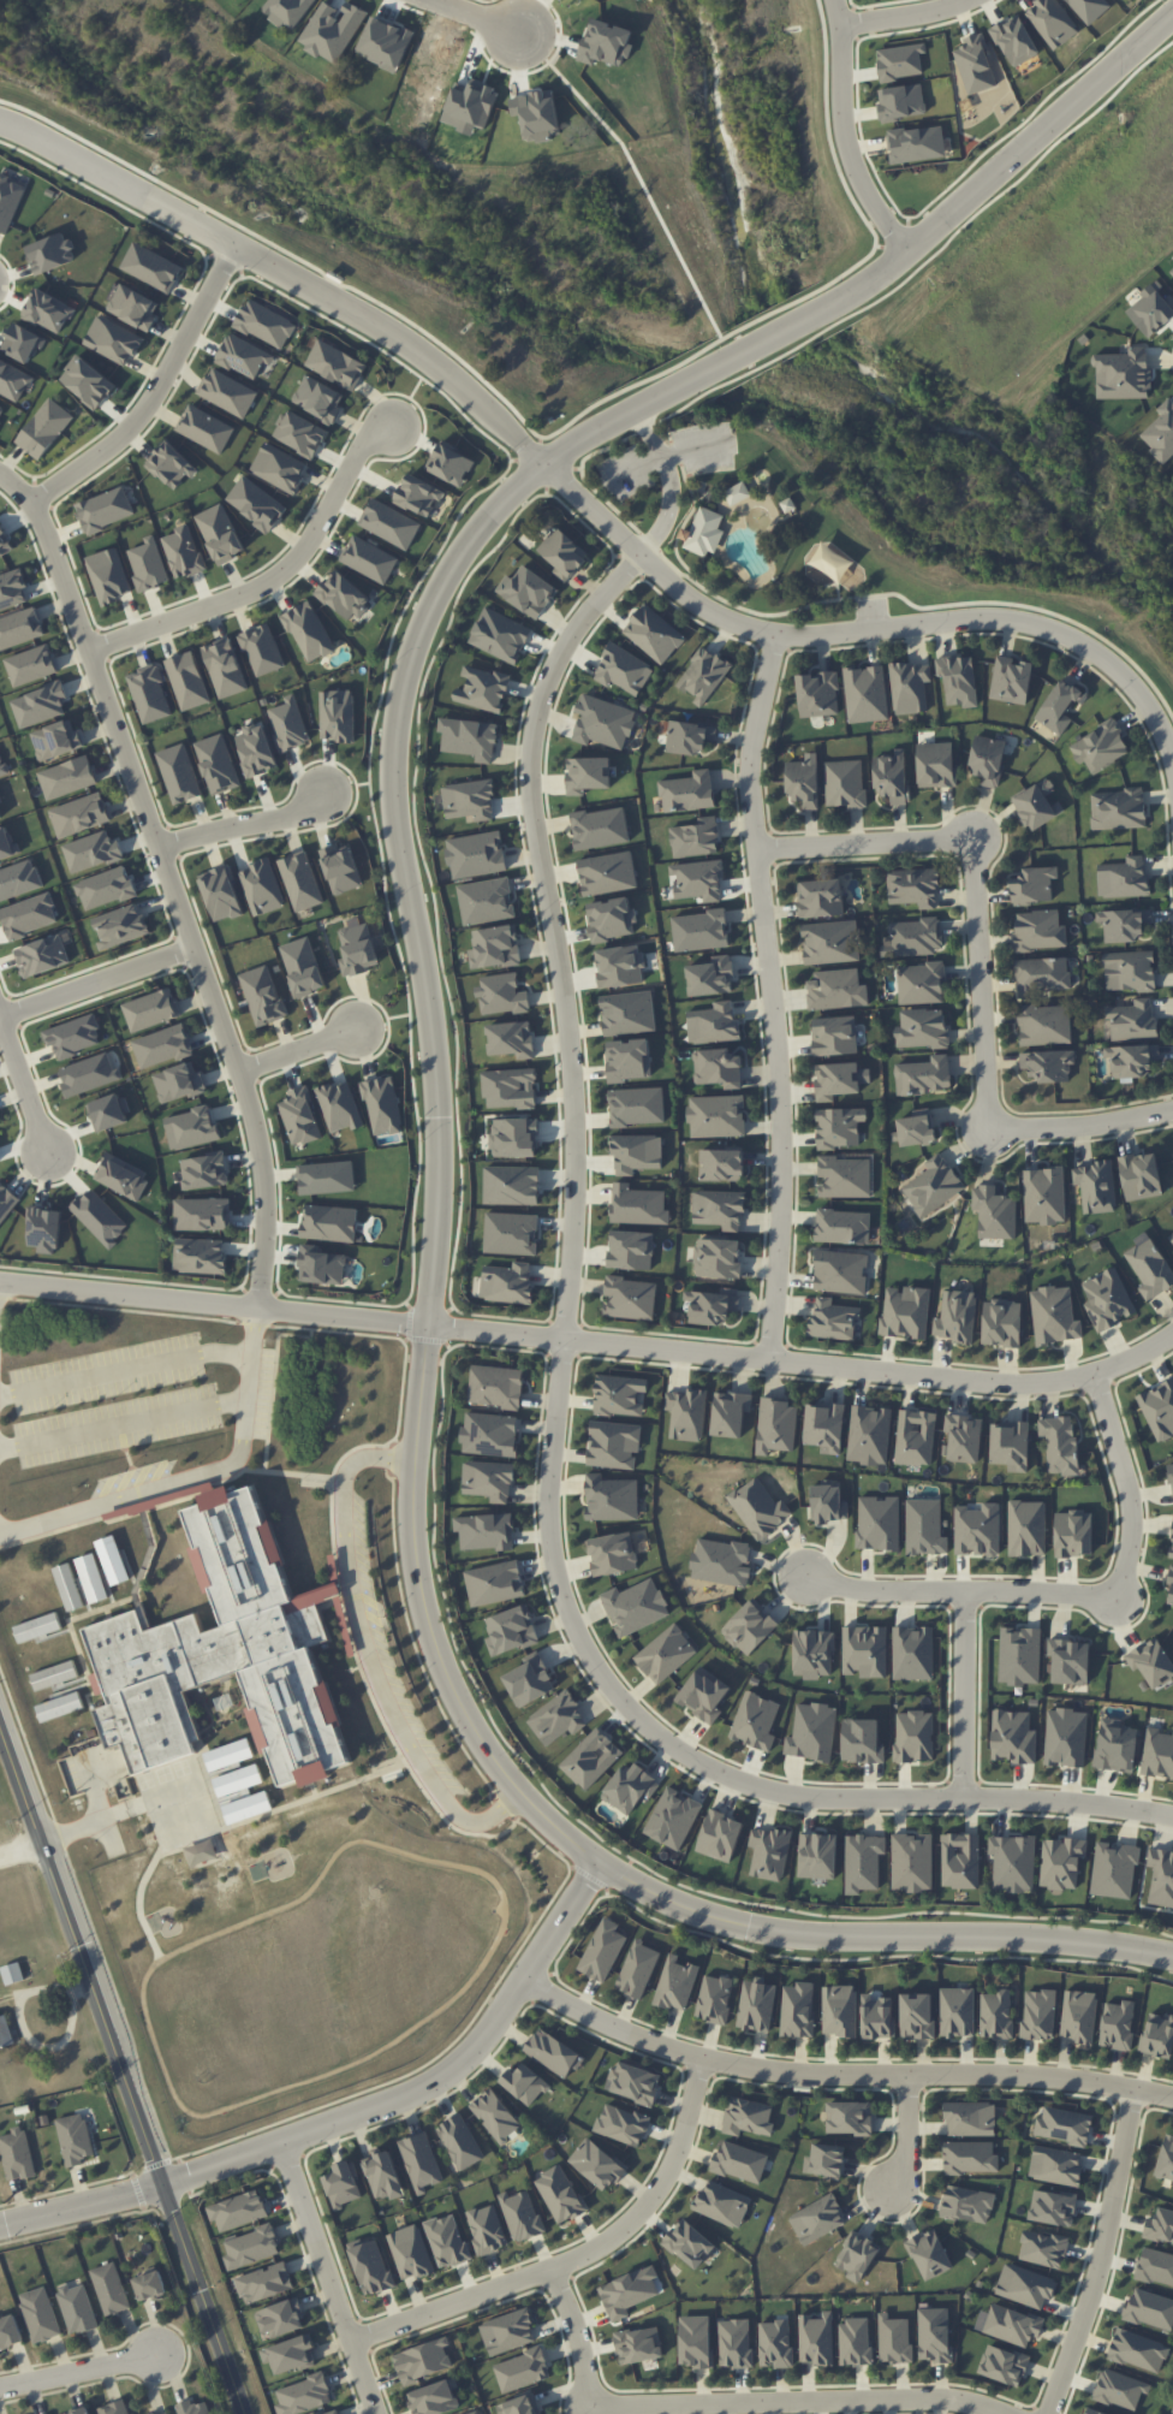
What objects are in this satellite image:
building: (1090, 8)
road: (835, 12)
road: (482, 14)
road: (903, 17)
building: (1052, 22)
building: (1014, 40)
building: (900, 61)
building: (975, 64)
building: (901, 101)
building: (916, 143)
road: (845, 147)
building: (8, 198)
building: (50, 253)
building: (151, 267)
building: (1171, 269)
road: (691, 273)
building: (135, 307)
building: (1151, 310)
building: (264, 324)
building: (113, 339)
building: (22, 342)
building: (243, 356)
building: (337, 364)
building: (1124, 374)
building: (13, 380)
building: (88, 382)
road: (155, 389)
building: (228, 392)
building: (320, 398)
building: (1, 410)
building: (0, 421)
building: (44, 428)
building: (206, 428)
building: (1161, 432)
building: (300, 433)
road: (666, 455)
building: (451, 463)
building: (171, 465)
building: (279, 467)
road: (669, 481)
building: (738, 493)
building: (419, 494)
road: (578, 498)
building: (256, 503)
building: (105, 509)
building: (391, 523)
building: (703, 532)
building: (220, 533)
building: (5, 542)
building: (183, 552)
building: (564, 553)
building: (369, 559)
building: (148, 564)
building: (109, 575)
road: (273, 575)
building: (12, 589)
building: (528, 591)
building: (343, 597)
building: (20, 628)
building: (309, 631)
building: (654, 634)
building: (500, 635)
building: (262, 650)
building: (31, 665)
building: (225, 668)
building: (623, 670)
building: (703, 675)
building: (958, 678)
building: (187, 680)
building: (1011, 680)
building: (909, 687)
building: (483, 689)
building: (818, 693)
building: (150, 694)
building: (865, 694)
building: (40, 705)
building: (1060, 706)
building: (337, 714)
building: (603, 722)
building: (288, 724)
building: (690, 736)
building: (469, 737)
building: (56, 740)
building: (1100, 747)
building: (256, 749)
building: (988, 759)
building: (218, 764)
building: (936, 765)
building: (2, 766)
building: (179, 773)
building: (588, 773)
building: (67, 777)
building: (892, 777)
building: (803, 781)
building: (845, 783)
building: (687, 791)
building: (469, 800)
building: (0, 801)
building: (1037, 803)
building: (1118, 808)
building: (79, 814)
building: (0, 815)
road: (245, 822)
building: (600, 828)
building: (696, 837)
building: (6, 843)
building: (91, 850)
building: (476, 854)
building: (341, 868)
building: (607, 873)
road: (168, 877)
building: (1124, 878)
building: (698, 879)
building: (300, 880)
building: (1034, 884)
building: (261, 886)
building: (913, 886)
building: (106, 888)
building: (221, 894)
building: (821, 897)
building: (486, 901)
building: (29, 915)
building: (611, 919)
building: (1124, 924)
building: (120, 926)
road: (553, 930)
building: (701, 930)
building: (1038, 930)
building: (913, 937)
building: (830, 942)
building: (495, 947)
building: (357, 949)
building: (42, 955)
building: (303, 966)
building: (620, 966)
road: (978, 968)
building: (1129, 971)
road: (96, 972)
building: (1043, 974)
building: (710, 975)
building: (921, 983)
building: (836, 989)
road: (772, 994)
building: (263, 995)
building: (501, 995)
building: (151, 1009)
building: (629, 1012)
building: (1132, 1020)
building: (713, 1024)
building: (1044, 1025)
building: (922, 1028)
building: (73, 1036)
building: (834, 1036)
building: (511, 1038)
building: (162, 1045)
road: (297, 1048)
building: (629, 1060)
building: (1132, 1060)
building: (1048, 1064)
building: (718, 1068)
road: (23, 1074)
building: (89, 1074)
road: (434, 1075)
building: (924, 1075)
building: (836, 1080)
building: (178, 1081)
building: (510, 1089)
building: (339, 1105)
building: (382, 1105)
building: (637, 1105)
building: (108, 1113)
building: (716, 1115)
building: (300, 1116)
building: (0, 1123)
building: (839, 1126)
building: (917, 1127)
building: (191, 1128)
building: (514, 1137)
building: (636, 1152)
building: (721, 1164)
building: (204, 1170)
building: (1141, 1175)
building: (845, 1176)
building: (327, 1178)
building: (511, 1185)
building: (933, 1185)
building: (1096, 1186)
building: (1044, 1194)
building: (6, 1202)
building: (638, 1205)
building: (719, 1208)
building: (994, 1212)
building: (202, 1214)
building: (100, 1217)
building: (329, 1222)
building: (842, 1226)
building: (44, 1228)
building: (511, 1233)
building: (1171, 1238)
building: (631, 1250)
building: (200, 1255)
building: (718, 1258)
building: (321, 1265)
building: (1150, 1268)
building: (840, 1271)
building: (507, 1282)
building: (630, 1298)
building: (1107, 1299)
road: (214, 1301)
building: (713, 1305)
building: (906, 1311)
building: (1054, 1315)
building: (957, 1316)
building: (833, 1318)
building: (1002, 1322)
road: (252, 1330)
road: (805, 1364)
road: (124, 1368)
road: (248, 1380)
building: (496, 1386)
building: (619, 1394)
building: (1159, 1408)
building: (686, 1413)
building: (730, 1413)
road: (123, 1424)
building: (776, 1425)
building: (824, 1427)
building: (490, 1434)
building: (869, 1435)
building: (916, 1437)
building: (964, 1437)
road: (243, 1439)
building: (1060, 1443)
building: (614, 1445)
building: (1011, 1445)
building: (1171, 1475)
building: (488, 1479)
building: (611, 1497)
road: (113, 1502)
building: (828, 1502)
building: (758, 1507)
building: (879, 1523)
building: (925, 1526)
building: (1026, 1528)
building: (978, 1530)
building: (484, 1531)
building: (1073, 1532)
building: (1172, 1543)
building: (612, 1553)
building: (113, 1560)
building: (721, 1561)
building: (93, 1578)
building: (494, 1583)
building: (69, 1586)
road: (1066, 1590)
building: (1169, 1591)
building: (636, 1606)
building: (37, 1626)
building: (750, 1626)
building: (511, 1630)
road: (371, 1650)
building: (864, 1650)
building: (812, 1653)
building: (912, 1653)
building: (226, 1654)
building: (666, 1654)
building: (1020, 1655)
building: (1070, 1661)
building: (1151, 1661)
building: (54, 1674)
building: (530, 1680)
road: (964, 1691)
building: (704, 1694)
building: (60, 1707)
building: (558, 1718)
building: (755, 1720)
building: (812, 1732)
building: (913, 1736)
building: (1013, 1737)
building: (1065, 1737)
building: (862, 1740)
building: (1115, 1745)
building: (1157, 1754)
building: (591, 1758)
road: (702, 1758)
building: (630, 1787)
building: (673, 1817)
building: (720, 1835)
road: (20, 1851)
building: (202, 1852)
building: (769, 1852)
building: (817, 1855)
building: (960, 1860)
building: (863, 1862)
building: (912, 1862)
building: (1013, 1862)
building: (1061, 1862)
building: (1114, 1869)
building: (1161, 1876)
building: (603, 1950)
building: (638, 1969)
building: (12, 1973)
building: (677, 1983)
building: (714, 1998)
building: (757, 2005)
building: (798, 2009)
building: (839, 2010)
building: (957, 2011)
building: (996, 2013)
building: (1038, 2013)
building: (917, 2015)
building: (1078, 2015)
building: (877, 2016)
building: (1118, 2024)
road: (23, 2028)
building: (5, 2032)
building: (1157, 2035)
building: (553, 2052)
road: (121, 2070)
road: (840, 2074)
building: (636, 2082)
building: (525, 2083)
building: (495, 2116)
building: (748, 2117)
building: (850, 2117)
building: (970, 2118)
road: (351, 2119)
building: (623, 2124)
building: (1064, 2125)
road: (907, 2134)
building: (75, 2139)
building: (460, 2141)
building: (17, 2153)
building: (969, 2157)
building: (1166, 2159)
building: (826, 2160)
building: (421, 2161)
building: (740, 2161)
building: (597, 2164)
building: (1056, 2165)
building: (383, 2175)
building: (343, 2184)
building: (560, 2194)
building: (722, 2204)
building: (967, 2204)
building: (1053, 2207)
building: (238, 2210)
building: (522, 2214)
building: (817, 2219)
building: (1160, 2225)
building: (487, 2229)
building: (447, 2241)
building: (689, 2243)
building: (251, 2247)
building: (1043, 2248)
road: (1118, 2249)
building: (410, 2252)
building: (929, 2254)
building: (857, 2255)
road: (1101, 2255)
road: (579, 2258)
building: (371, 2265)
building: (1155, 2266)
road: (327, 2279)
building: (264, 2282)
building: (150, 2285)
building: (1025, 2285)
building: (109, 2288)
building: (629, 2291)
building: (77, 2308)
building: (1150, 2308)
building: (40, 2314)
building: (281, 2318)
building: (1012, 2324)
building: (10, 2331)
building: (508, 2331)
building: (934, 2335)
building: (816, 2338)
building: (894, 2338)
building: (695, 2341)
building: (855, 2341)
building: (734, 2342)
building: (775, 2343)
building: (638, 2344)
building: (1138, 2350)
building: (291, 2354)
building: (423, 2360)
building: (1004, 2365)
building: (522, 2369)
road: (78, 2372)
building: (1120, 2389)
building: (304, 2395)
building: (435, 2398)
road: (731, 2400)
building: (520, 2404)
building: (193, 2407)
building: (114, 2408)
building: (79, 2410)
building: (165, 2412)
building: (332, 2412)
building: (1094, 2412)
building: (1172, 2412)
building: (475, 2413)

